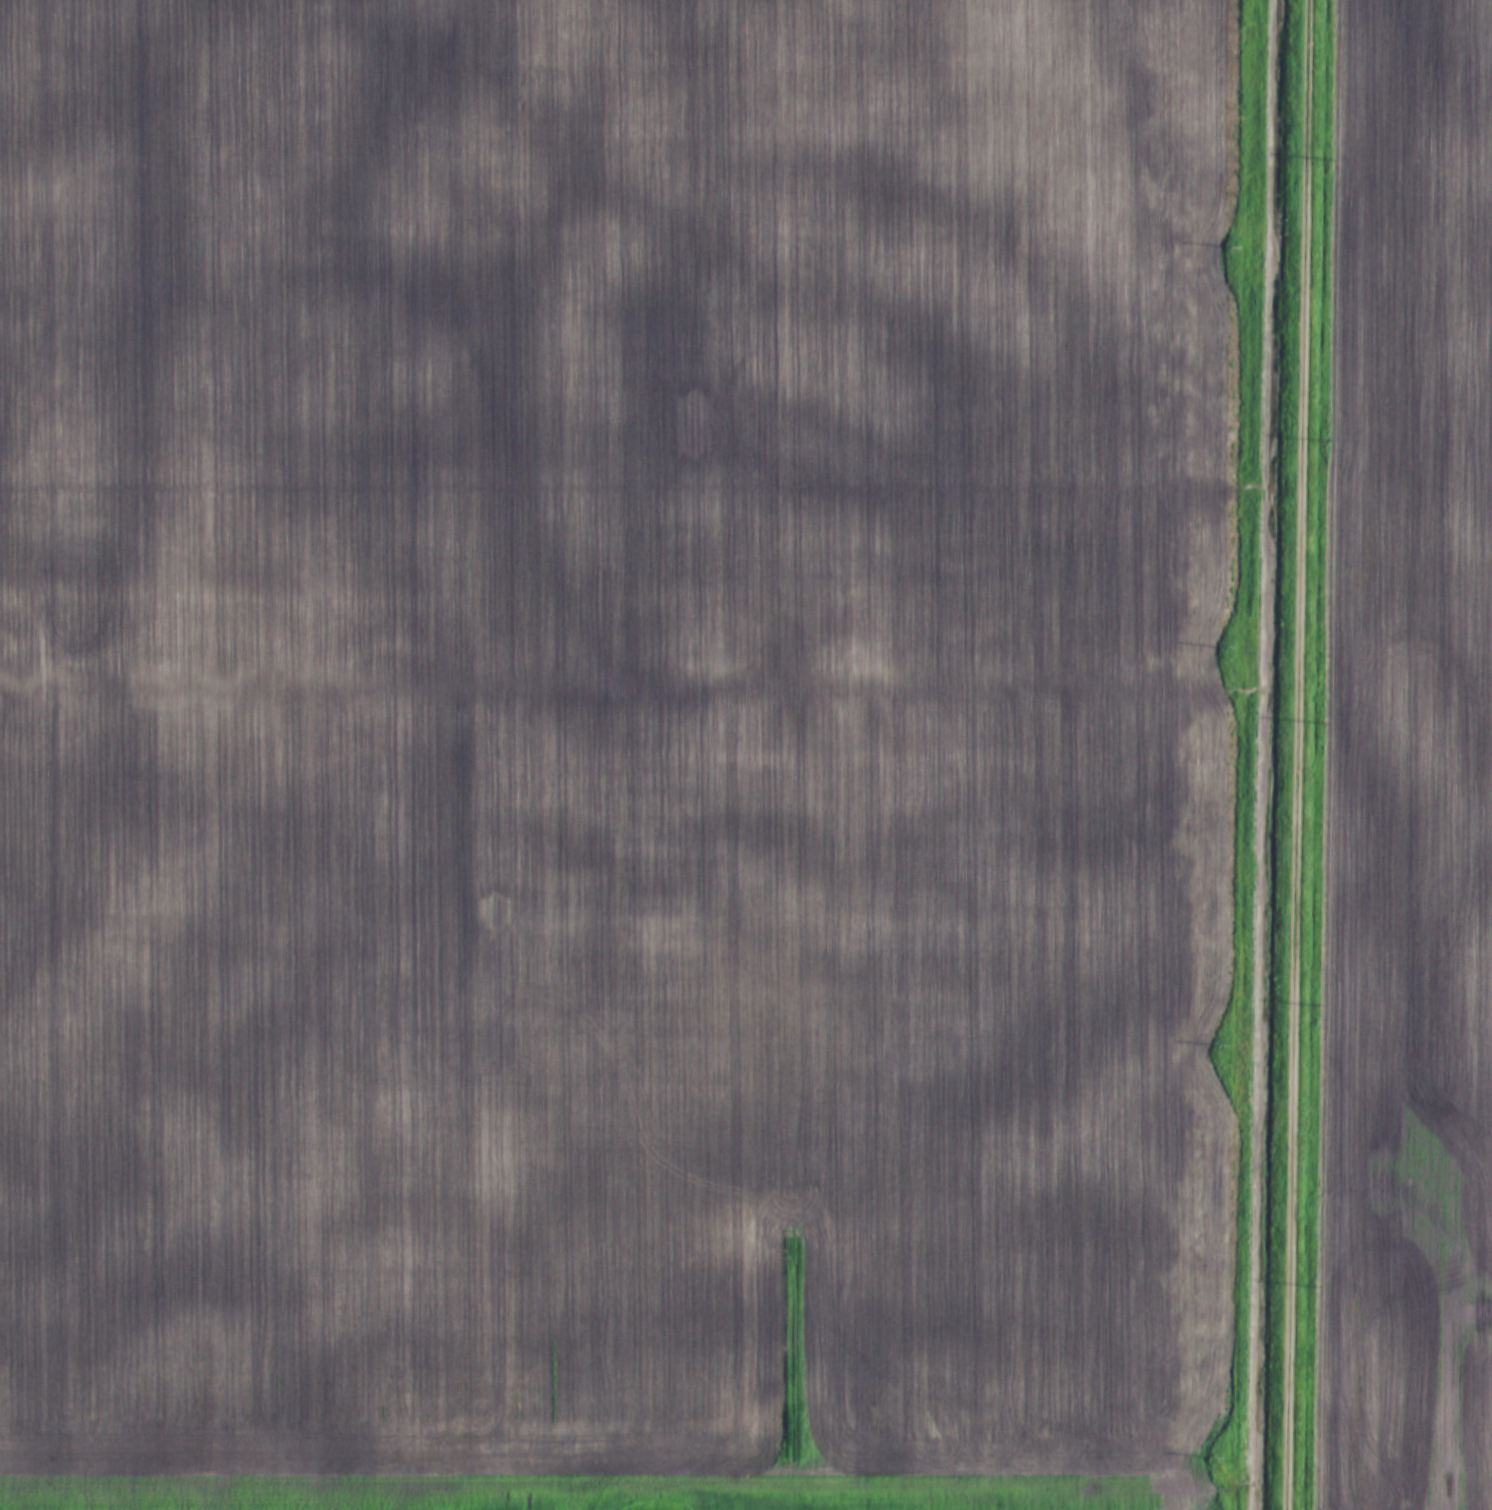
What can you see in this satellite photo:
road: (1291, 754)

